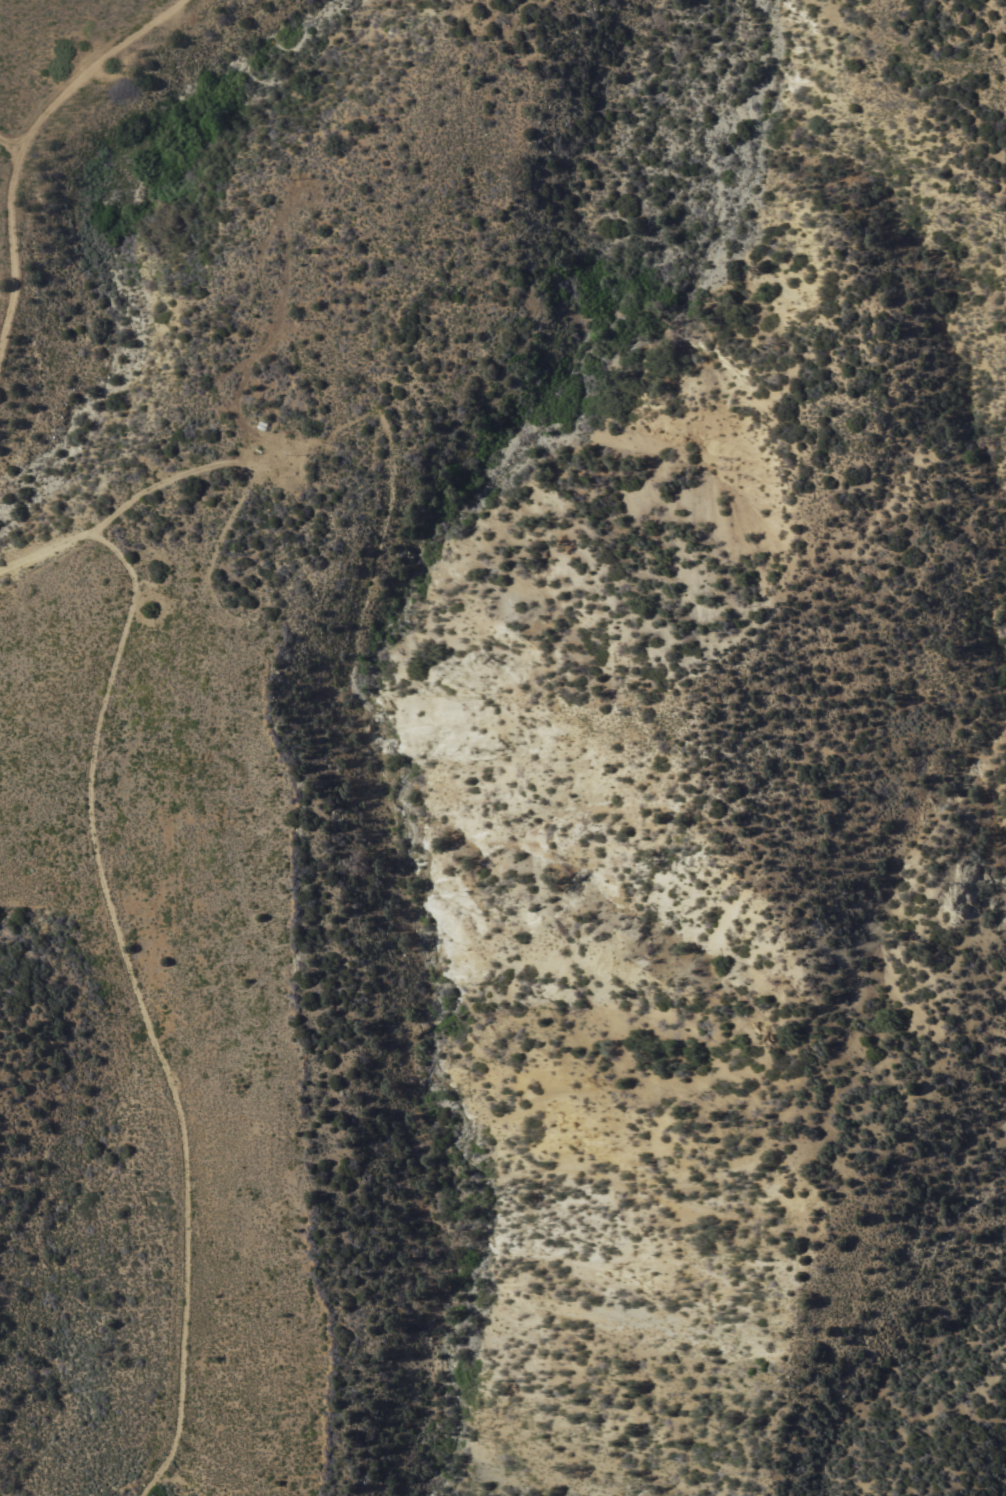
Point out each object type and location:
road: (71, 36)
road: (36, 71)
road: (13, 137)
road: (28, 144)
road: (192, 469)
road: (121, 620)
road: (175, 1111)
road: (158, 1480)

